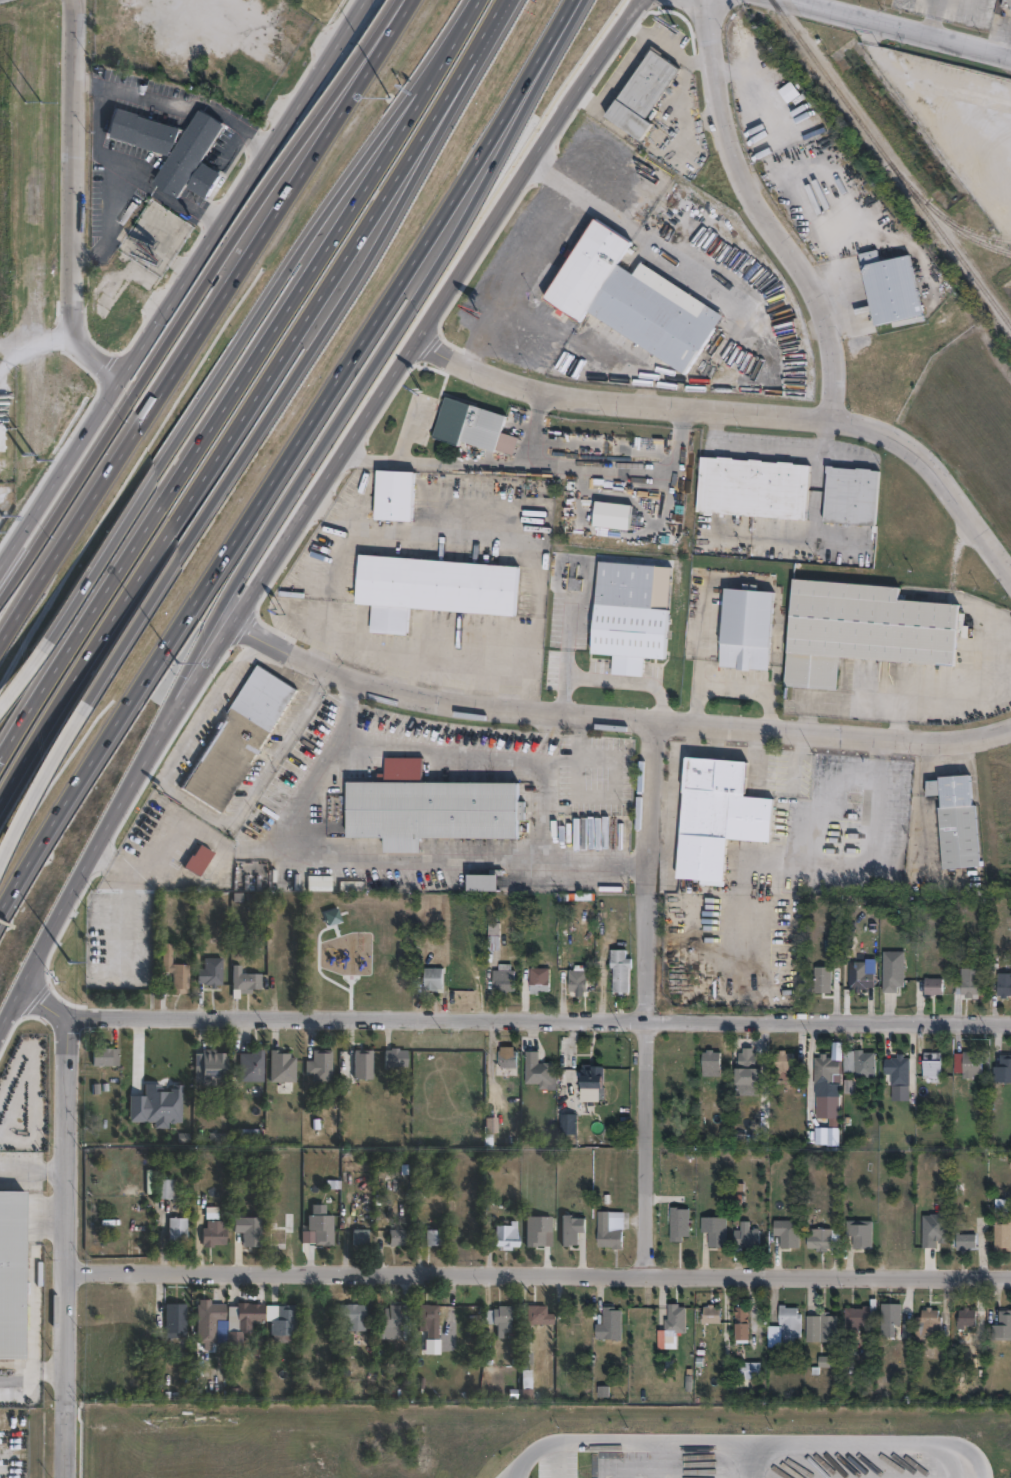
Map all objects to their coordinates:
building: (1008, 3)
power tower: (33, 11)
road: (927, 15)
road: (627, 20)
road: (904, 27)
road: (637, 29)
road: (460, 30)
road: (558, 33)
road: (483, 44)
road: (636, 52)
road: (922, 78)
road: (82, 81)
road: (678, 84)
road: (753, 88)
building: (792, 92)
building: (644, 93)
building: (266, 101)
road: (193, 103)
road: (98, 117)
road: (689, 123)
road: (980, 145)
building: (175, 147)
railway: (890, 164)
road: (163, 194)
road: (75, 200)
road: (768, 208)
road: (105, 213)
road: (661, 235)
road: (821, 236)
road: (539, 238)
building: (200, 244)
road: (82, 252)
power tower: (32, 271)
road: (186, 285)
building: (893, 287)
road: (210, 293)
building: (632, 297)
road: (422, 312)
building: (152, 314)
road: (36, 339)
road: (218, 340)
road: (234, 350)
building: (131, 374)
road: (362, 388)
road: (740, 403)
road: (274, 404)
road: (219, 410)
building: (473, 424)
road: (534, 424)
building: (1, 436)
road: (223, 444)
road: (772, 453)
road: (536, 467)
road: (257, 485)
building: (757, 487)
building: (397, 494)
building: (855, 495)
road: (813, 524)
road: (512, 543)
road: (836, 543)
road: (729, 576)
building: (434, 588)
building: (631, 616)
building: (750, 629)
building: (865, 629)
road: (778, 633)
road: (290, 652)
road: (700, 654)
road: (567, 657)
road: (20, 678)
road: (627, 681)
road: (749, 693)
road: (682, 719)
road: (719, 737)
building: (238, 740)
road: (756, 740)
road: (481, 752)
road: (727, 752)
road: (37, 786)
road: (299, 787)
road: (114, 802)
road: (197, 806)
building: (431, 808)
road: (672, 811)
building: (715, 815)
building: (956, 817)
building: (199, 860)
road: (499, 862)
road: (869, 873)
building: (482, 878)
building: (318, 879)
building: (493, 928)
park: (357, 948)
building: (164, 954)
building: (619, 967)
building: (894, 967)
building: (209, 969)
building: (862, 974)
building: (502, 975)
building: (179, 976)
building: (432, 976)
building: (823, 977)
building: (242, 978)
building: (576, 978)
building: (1000, 979)
building: (537, 982)
building: (935, 983)
building: (969, 985)
road: (652, 995)
road: (37, 1011)
road: (538, 1021)
building: (104, 1054)
building: (392, 1055)
building: (507, 1056)
building: (783, 1058)
building: (749, 1059)
building: (711, 1060)
building: (860, 1060)
building: (361, 1062)
building: (970, 1062)
building: (213, 1063)
building: (248, 1063)
building: (317, 1063)
building: (933, 1063)
building: (280, 1064)
building: (825, 1066)
building: (899, 1067)
building: (1003, 1067)
building: (537, 1068)
building: (591, 1075)
building: (158, 1101)
building: (828, 1107)
building: (568, 1122)
building: (247, 1137)
road: (35, 1169)
building: (165, 1188)
building: (204, 1191)
building: (679, 1221)
building: (611, 1226)
building: (320, 1227)
building: (537, 1228)
building: (716, 1228)
building: (247, 1229)
building: (861, 1229)
building: (175, 1230)
building: (570, 1231)
building: (788, 1231)
building: (211, 1232)
building: (747, 1233)
building: (278, 1234)
building: (359, 1234)
building: (395, 1234)
building: (1002, 1234)
building: (431, 1235)
building: (504, 1235)
building: (820, 1235)
building: (966, 1240)
road: (71, 1250)
road: (541, 1273)
building: (12, 1276)
road: (33, 1294)
building: (890, 1312)
building: (392, 1313)
building: (537, 1313)
building: (711, 1313)
building: (352, 1315)
building: (246, 1316)
building: (675, 1316)
building: (858, 1316)
building: (428, 1317)
building: (174, 1318)
building: (968, 1318)
building: (499, 1319)
building: (208, 1321)
building: (742, 1321)
building: (282, 1322)
building: (609, 1323)
building: (928, 1323)
building: (1003, 1324)
building: (785, 1327)
building: (821, 1327)
building: (253, 1359)
building: (525, 1360)
building: (746, 1371)
building: (3, 1393)
road: (751, 1444)
road: (556, 1461)

